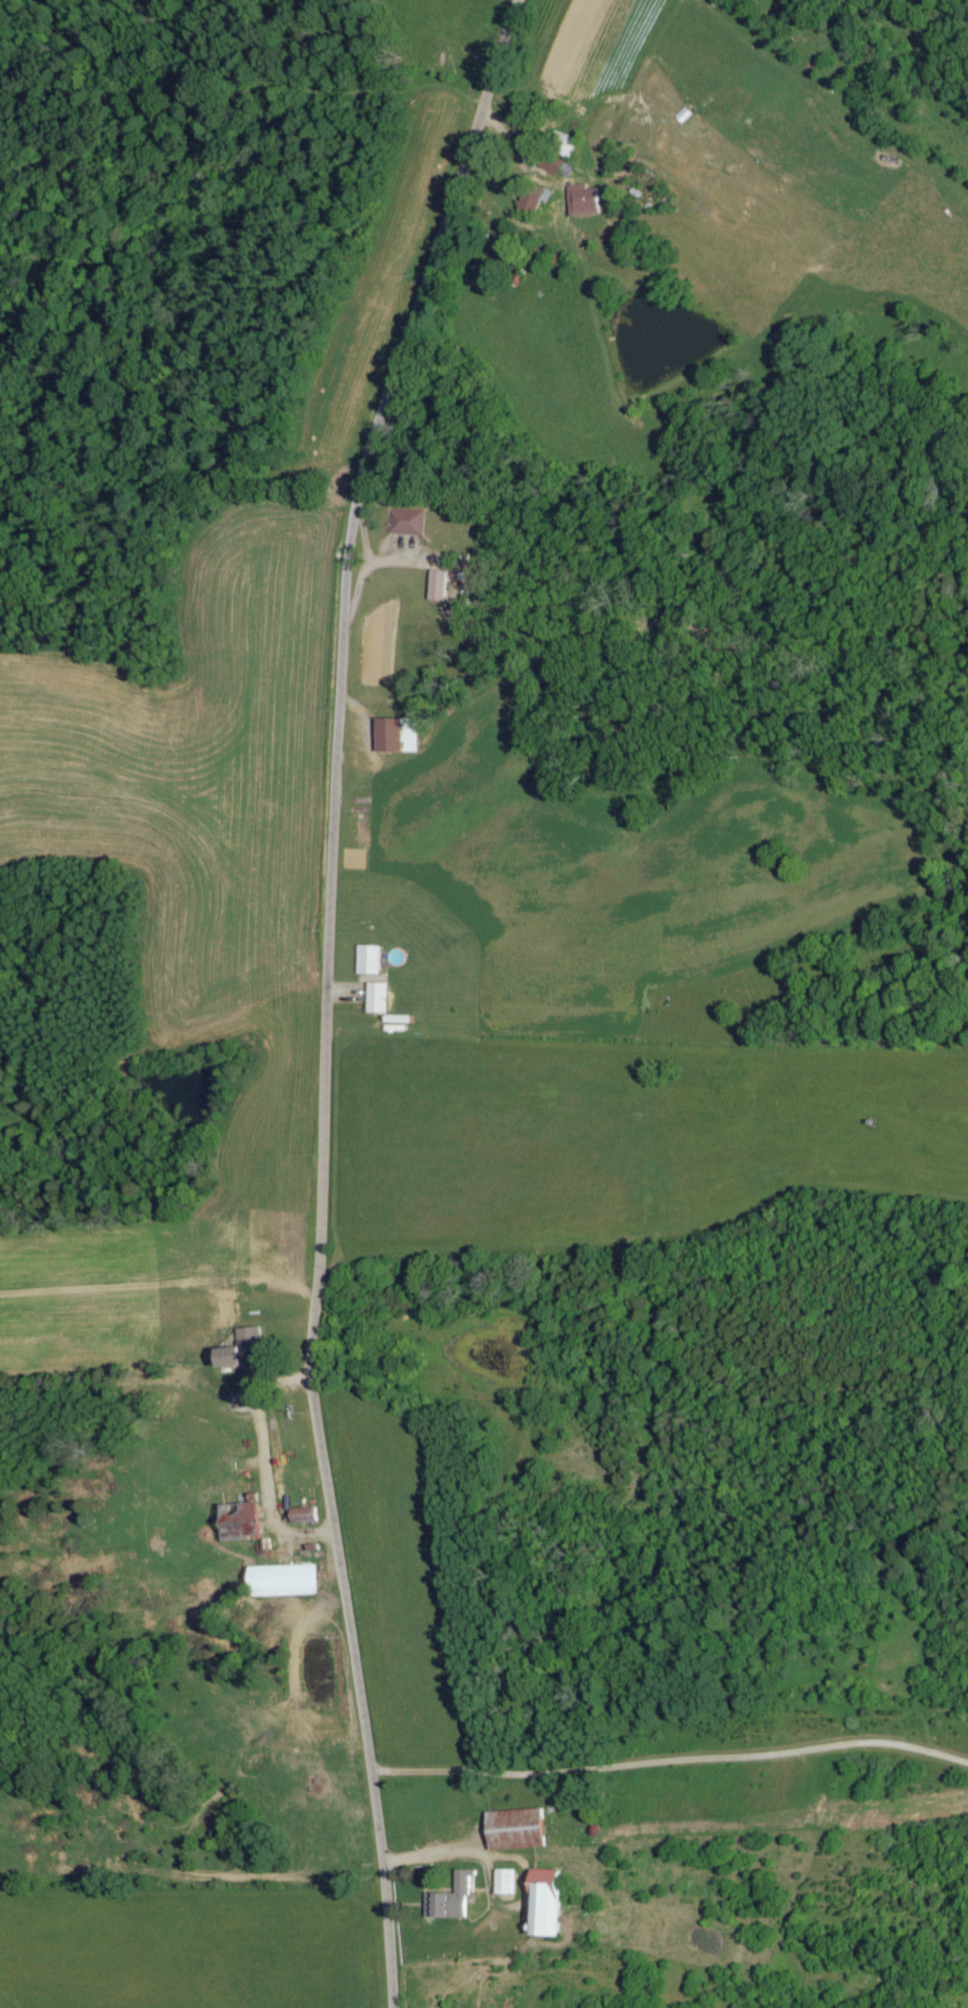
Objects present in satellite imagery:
building: (532, 200)
building: (583, 201)
building: (405, 522)
building: (438, 586)
building: (398, 736)
building: (368, 960)
road: (329, 993)
building: (376, 998)
building: (243, 1348)
building: (303, 1515)
building: (242, 1520)
building: (283, 1580)
building: (518, 1829)
building: (505, 1882)
building: (451, 1900)
building: (546, 1909)

